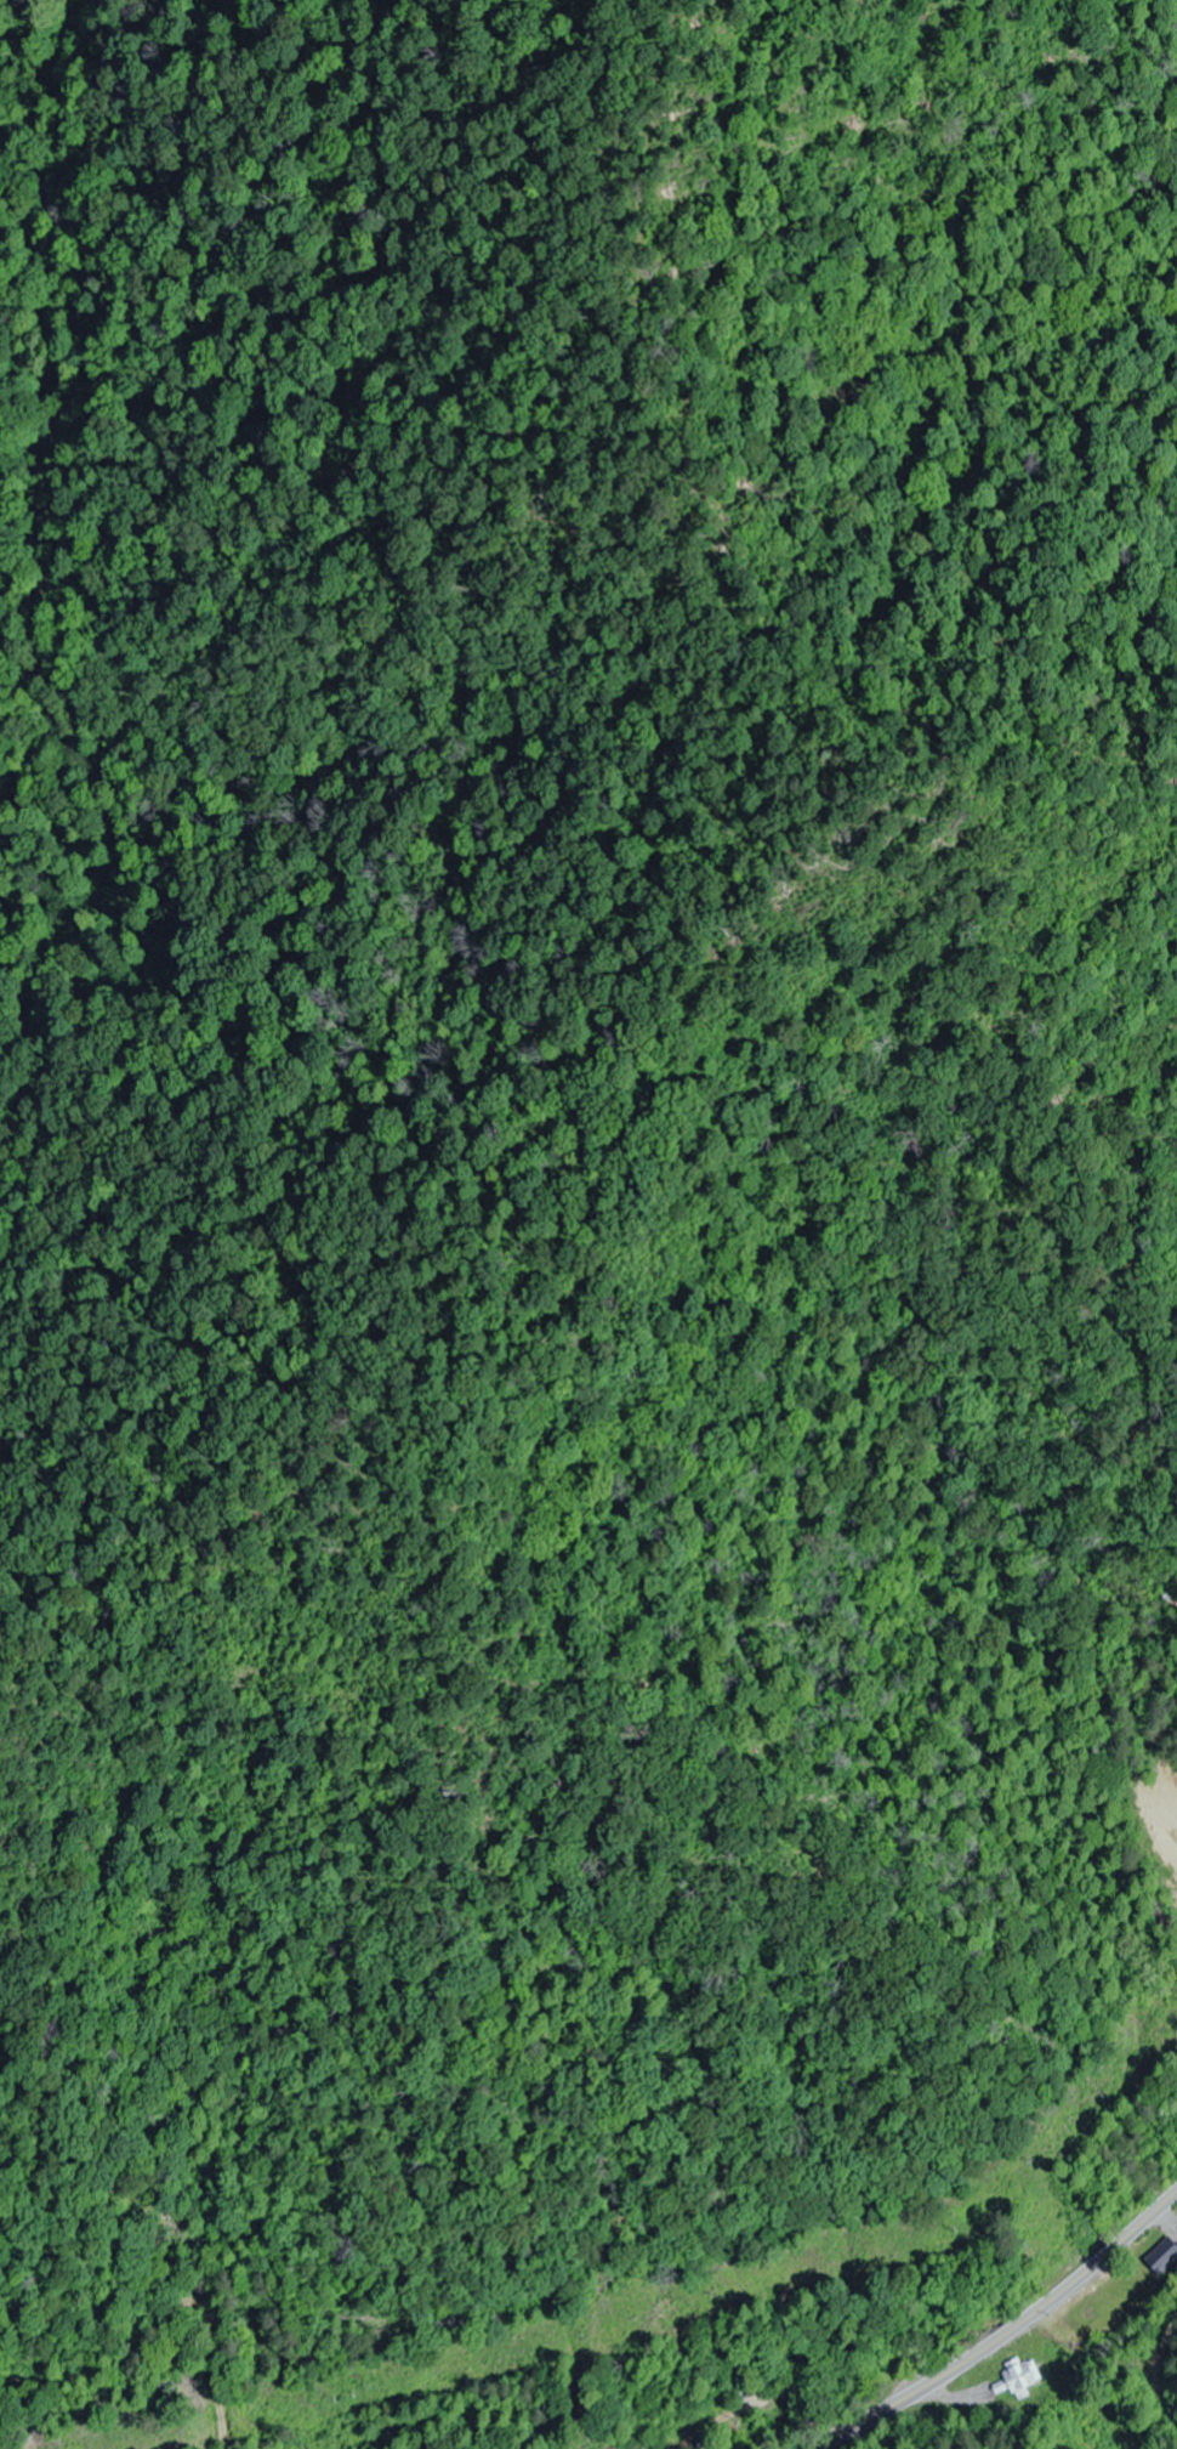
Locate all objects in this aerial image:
building: (1172, 1892)
building: (1162, 2257)
road: (1005, 2335)
building: (1020, 2379)

